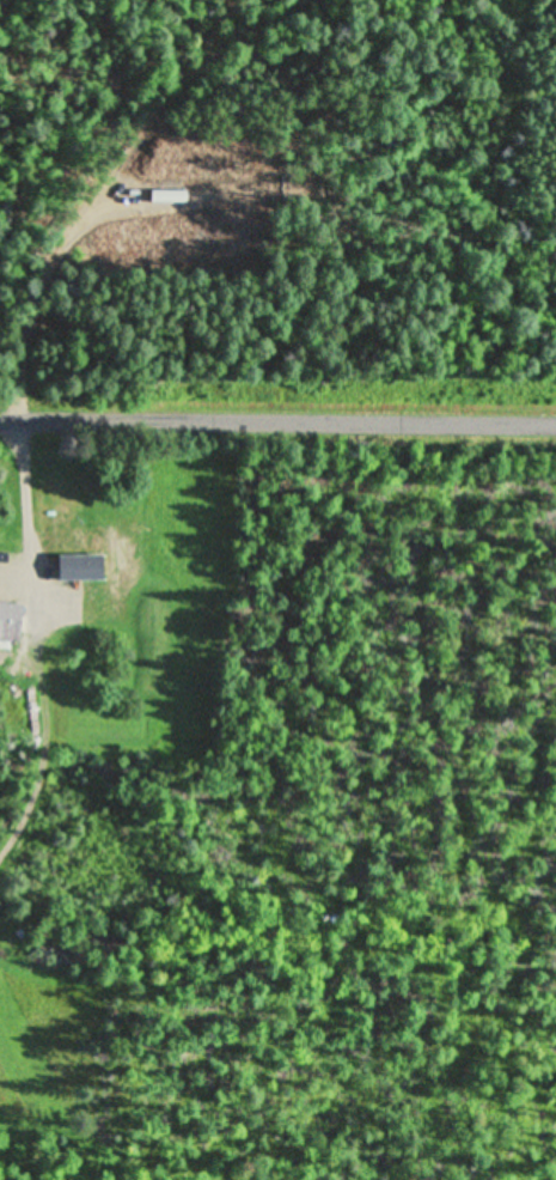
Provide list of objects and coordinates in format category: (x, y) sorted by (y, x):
road: (277, 427)
building: (53, 507)
building: (84, 577)
building: (10, 622)

